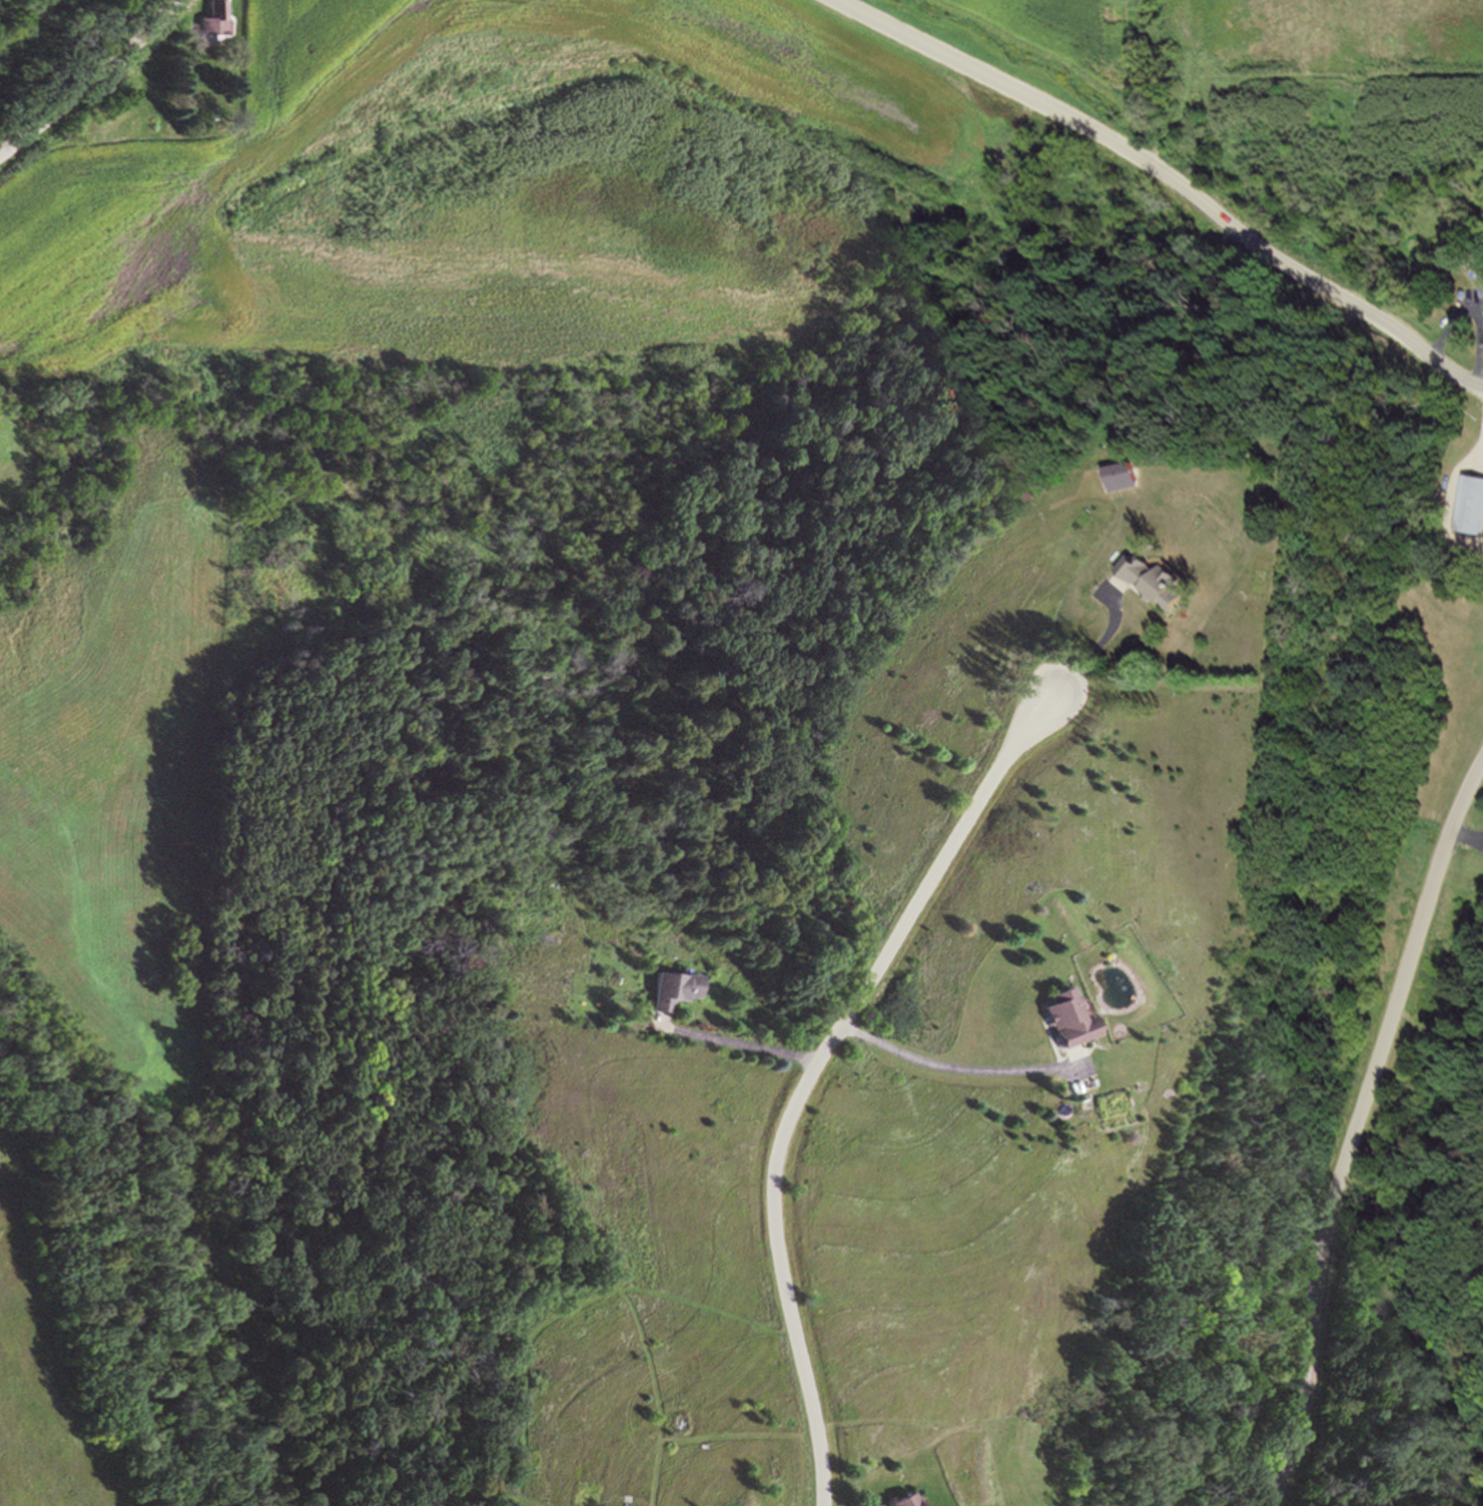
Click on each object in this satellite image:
building: (217, 22)
road: (94, 82)
road: (1171, 178)
building: (1482, 292)
road: (1457, 318)
road: (1482, 376)
building: (1123, 477)
building: (1470, 510)
building: (1156, 585)
road: (1096, 650)
building: (674, 995)
building: (1065, 1026)
road: (740, 1045)
road: (959, 1068)
road: (816, 1071)
road: (1358, 1126)
building: (905, 1503)

